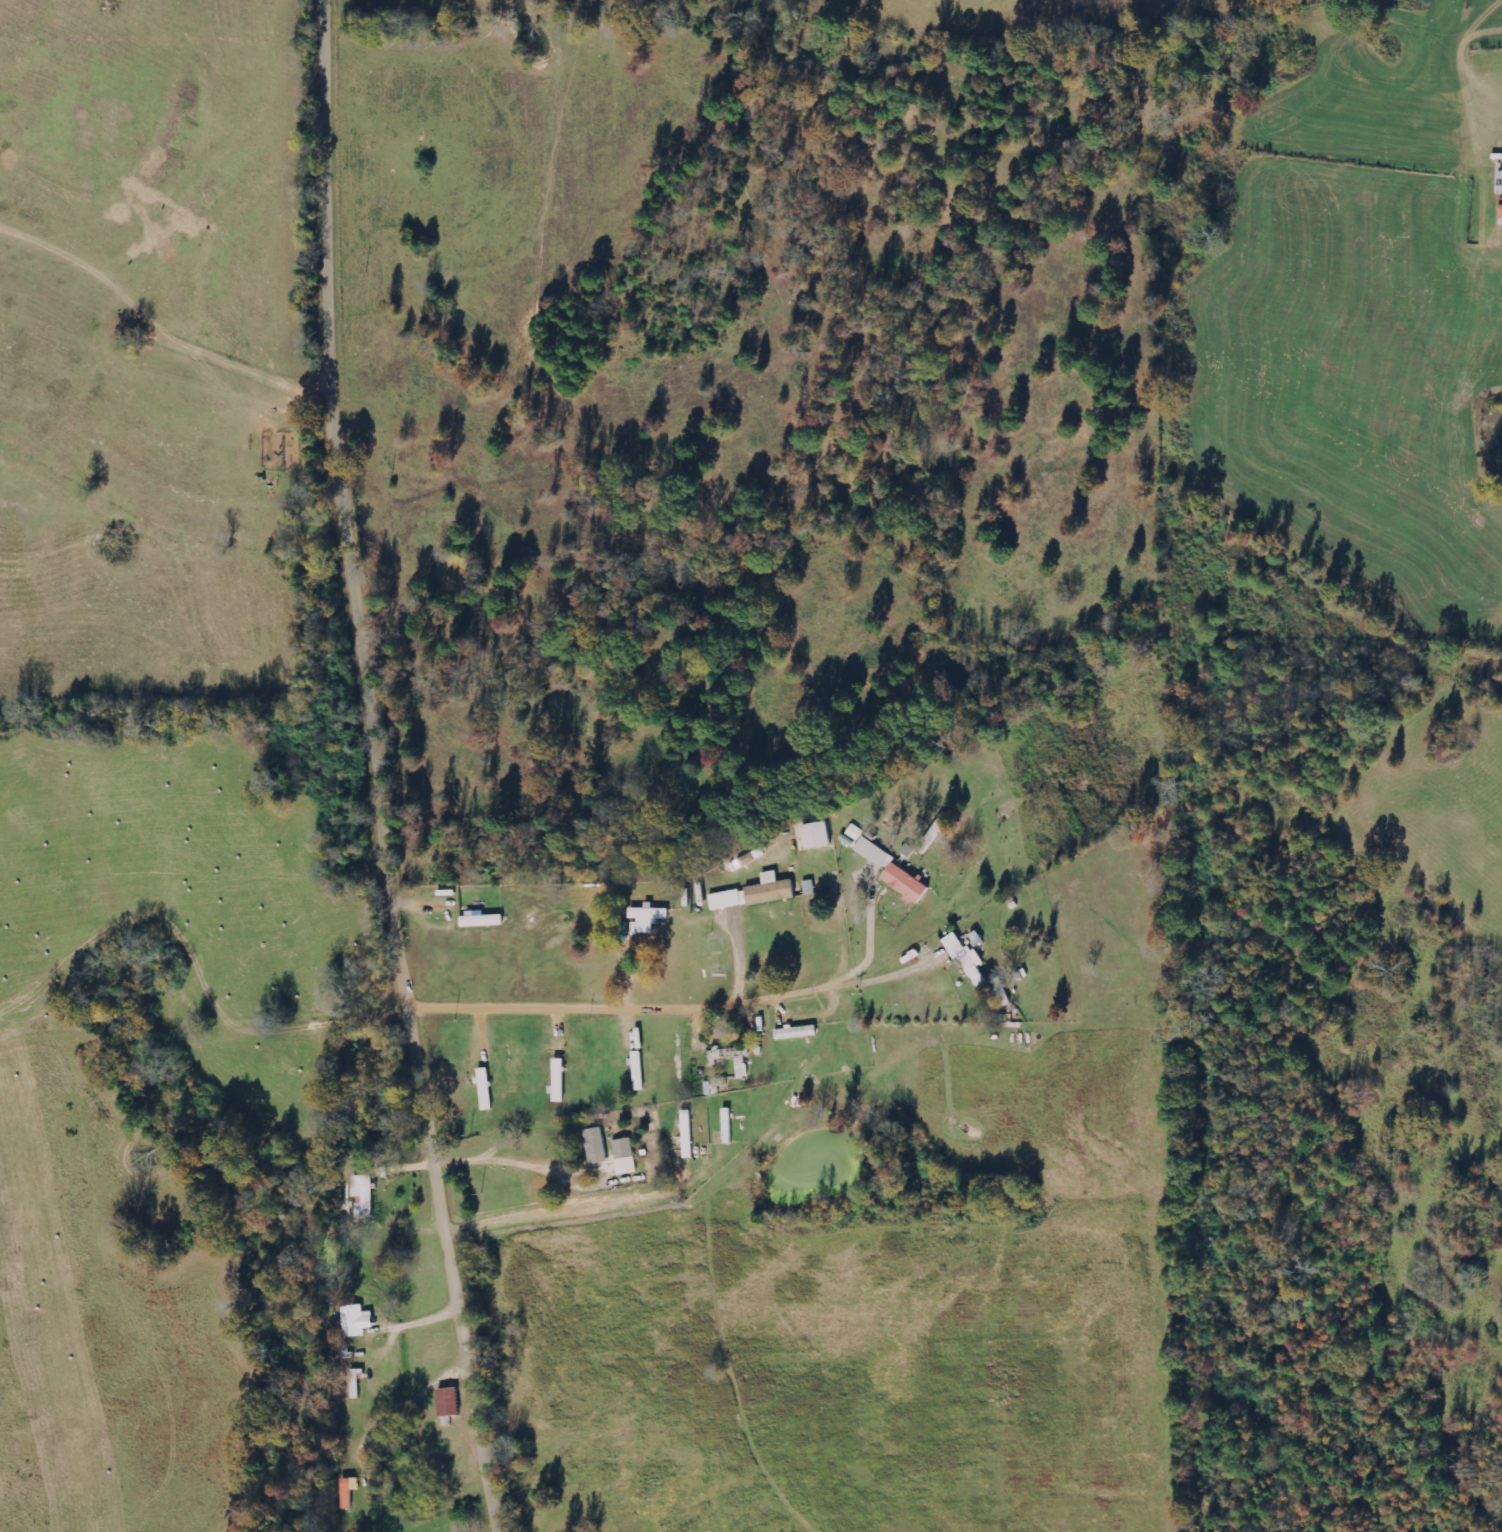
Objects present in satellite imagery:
building: (1501, 209)
road: (384, 769)
building: (856, 832)
building: (817, 835)
building: (873, 852)
building: (752, 857)
building: (905, 883)
building: (755, 893)
building: (651, 913)
building: (966, 958)
road: (659, 1007)
building: (796, 1032)
road: (367, 1086)
building: (727, 1126)
building: (596, 1146)
building: (625, 1157)
building: (365, 1195)
building: (357, 1321)
building: (449, 1403)
building: (348, 1494)

